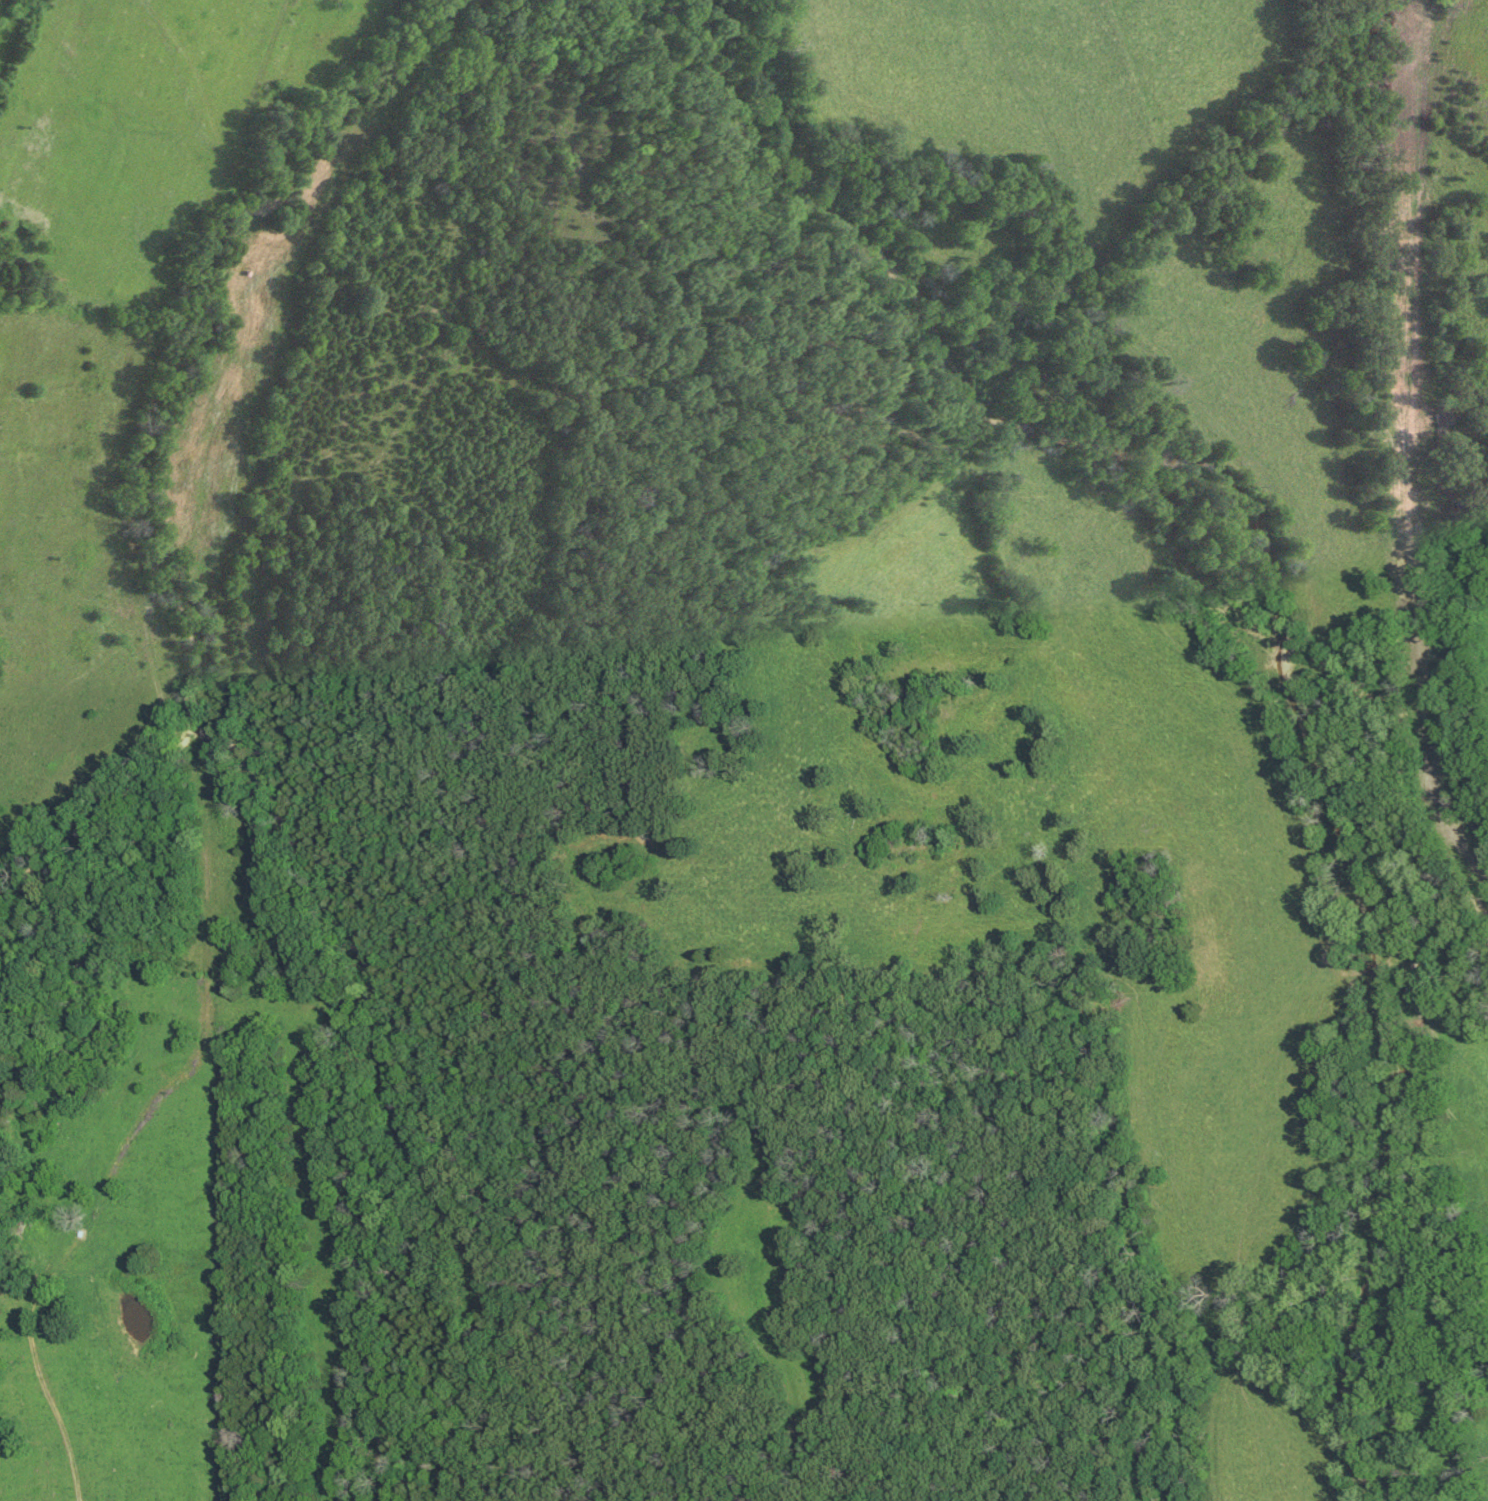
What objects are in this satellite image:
road: (198, 753)
road: (212, 1273)

